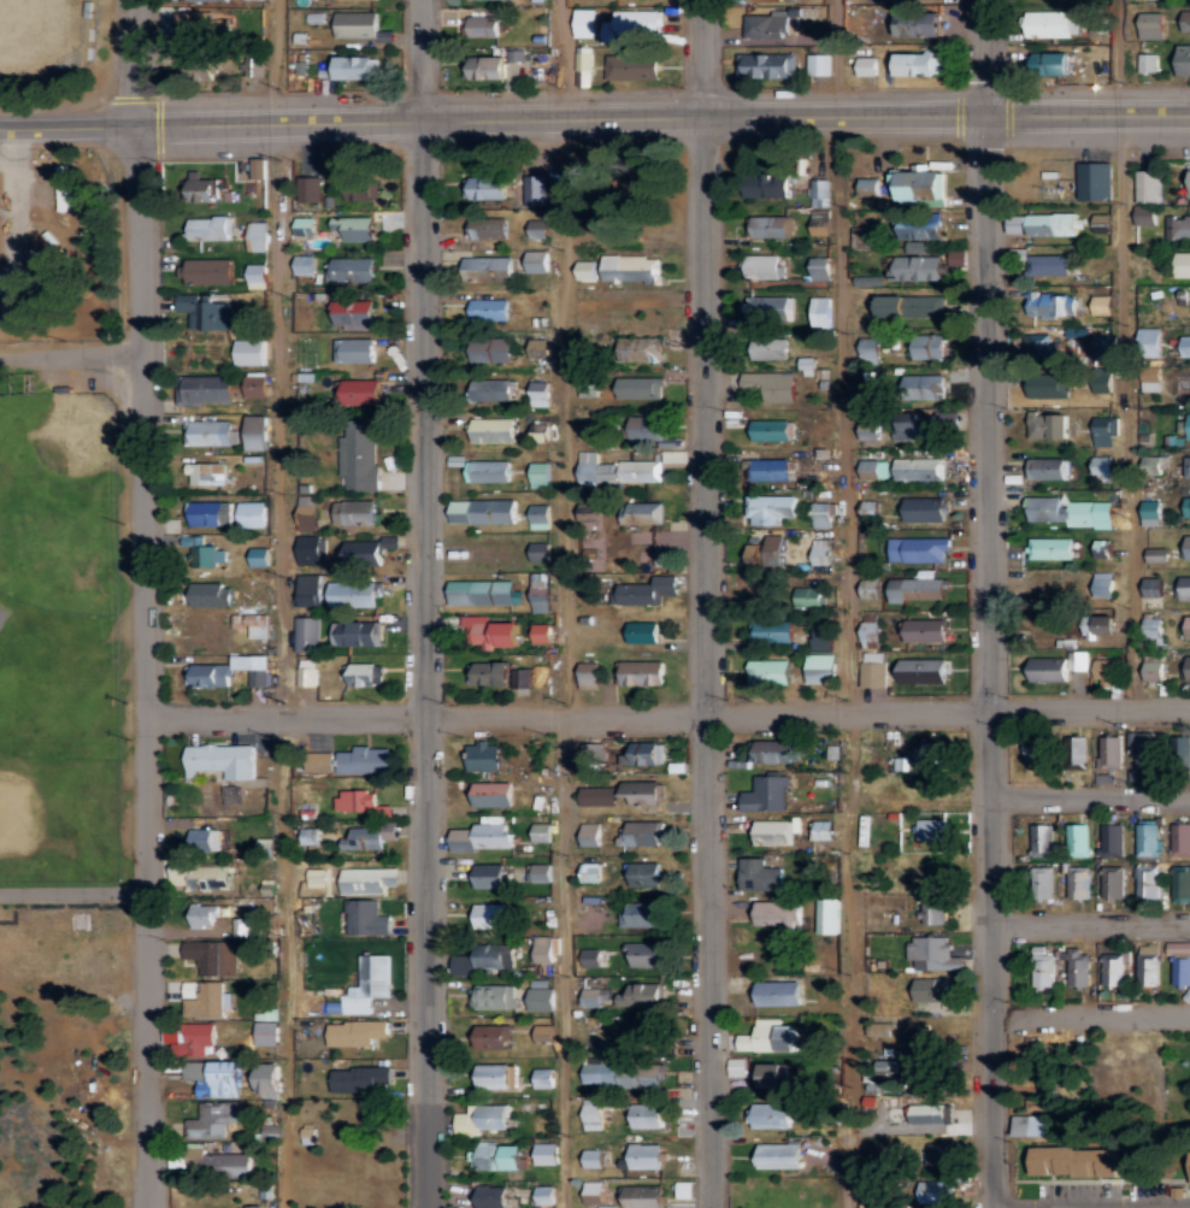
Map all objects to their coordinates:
building: (210, 0)
building: (354, 0)
building: (765, 0)
building: (1185, 20)
building: (585, 23)
building: (764, 23)
building: (867, 23)
building: (1053, 24)
building: (201, 25)
building: (636, 25)
building: (920, 25)
building: (1150, 25)
building: (483, 26)
road: (984, 54)
road: (841, 55)
road: (273, 59)
building: (1184, 60)
building: (1148, 63)
building: (913, 64)
building: (1049, 64)
building: (819, 65)
building: (632, 66)
building: (766, 66)
building: (867, 66)
building: (354, 67)
building: (484, 67)
road: (594, 114)
building: (258, 167)
building: (1095, 181)
building: (920, 183)
building: (1188, 183)
building: (768, 184)
building: (867, 185)
building: (1148, 185)
building: (484, 187)
building: (310, 188)
building: (359, 188)
building: (202, 189)
building: (535, 189)
building: (818, 191)
building: (1145, 214)
building: (819, 222)
building: (1044, 223)
building: (305, 225)
building: (768, 225)
building: (355, 226)
building: (920, 226)
building: (1178, 226)
building: (208, 228)
building: (488, 228)
building: (537, 228)
building: (257, 235)
building: (866, 237)
building: (958, 257)
building: (536, 260)
building: (305, 264)
building: (1049, 264)
building: (1182, 264)
building: (761, 266)
building: (352, 267)
building: (489, 267)
building: (820, 267)
building: (917, 267)
building: (208, 270)
building: (585, 270)
building: (257, 275)
building: (867, 279)
building: (1056, 304)
building: (906, 305)
building: (489, 308)
building: (767, 308)
building: (205, 311)
building: (820, 311)
building: (353, 313)
building: (1151, 337)
building: (1041, 344)
building: (1185, 344)
building: (927, 346)
building: (774, 347)
building: (538, 348)
building: (642, 348)
building: (868, 348)
building: (354, 349)
building: (252, 350)
building: (491, 350)
road: (1131, 353)
road: (71, 360)
building: (770, 384)
building: (255, 385)
building: (588, 385)
building: (925, 385)
building: (1049, 385)
building: (640, 387)
building: (1180, 387)
building: (491, 388)
building: (205, 389)
building: (361, 391)
building: (538, 393)
building: (1048, 424)
building: (870, 425)
building: (1188, 425)
building: (647, 426)
building: (919, 428)
building: (493, 429)
building: (771, 429)
building: (1104, 429)
building: (210, 431)
building: (255, 431)
building: (1156, 460)
building: (1102, 465)
building: (1186, 465)
building: (873, 467)
building: (1048, 467)
building: (770, 469)
building: (918, 469)
building: (487, 470)
building: (613, 470)
building: (206, 472)
building: (540, 473)
building: (1186, 506)
building: (772, 507)
building: (924, 509)
building: (355, 511)
building: (483, 511)
building: (1070, 511)
building: (588, 512)
building: (642, 512)
building: (1151, 512)
building: (821, 513)
building: (252, 514)
building: (540, 515)
building: (306, 517)
building: (308, 548)
building: (821, 548)
building: (918, 548)
building: (1050, 548)
building: (1186, 548)
building: (540, 550)
building: (196, 552)
building: (369, 552)
building: (1156, 554)
building: (767, 555)
building: (259, 556)
building: (1104, 583)
building: (918, 587)
building: (1154, 587)
building: (1184, 587)
building: (871, 588)
building: (307, 590)
building: (644, 590)
building: (482, 591)
building: (540, 591)
building: (352, 593)
building: (212, 595)
building: (808, 596)
road: (143, 603)
road: (426, 603)
road: (562, 603)
road: (706, 603)
building: (252, 623)
building: (1101, 624)
building: (1189, 626)
building: (925, 630)
building: (1153, 630)
building: (490, 631)
building: (643, 631)
building: (770, 631)
building: (355, 632)
building: (541, 632)
park: (61, 634)
building: (306, 634)
building: (870, 634)
building: (823, 635)
road: (852, 659)
road: (989, 659)
road: (285, 664)
building: (1058, 666)
building: (820, 667)
building: (873, 668)
building: (923, 670)
building: (1154, 670)
building: (229, 671)
building: (768, 671)
building: (1185, 671)
building: (307, 672)
building: (641, 672)
building: (1106, 672)
building: (364, 673)
building: (496, 673)
building: (589, 674)
road: (667, 709)
building: (1180, 749)
building: (772, 752)
building: (1143, 752)
building: (648, 753)
building: (927, 753)
building: (1038, 754)
building: (483, 756)
building: (1109, 756)
building: (222, 759)
building: (364, 760)
building: (642, 791)
building: (766, 792)
building: (494, 794)
building: (597, 795)
road: (1090, 800)
building: (360, 803)
building: (932, 829)
building: (821, 830)
building: (541, 831)
building: (776, 831)
building: (640, 832)
building: (590, 833)
building: (484, 835)
building: (367, 836)
building: (1042, 838)
building: (1180, 838)
building: (205, 839)
building: (1078, 839)
building: (1111, 839)
building: (1147, 839)
building: (590, 871)
building: (540, 872)
building: (644, 873)
building: (205, 874)
building: (489, 874)
building: (760, 874)
building: (316, 877)
building: (367, 879)
building: (1042, 882)
building: (1077, 882)
building: (1112, 882)
building: (1147, 882)
building: (1180, 883)
road: (73, 895)
building: (933, 911)
building: (779, 913)
building: (204, 914)
building: (641, 914)
building: (490, 915)
building: (827, 915)
building: (366, 918)
road: (1090, 919)
building: (544, 948)
building: (644, 954)
building: (931, 954)
building: (495, 955)
building: (212, 956)
building: (591, 957)
building: (1179, 962)
building: (464, 964)
building: (1148, 965)
building: (1079, 967)
building: (1043, 970)
building: (1113, 971)
building: (365, 985)
building: (929, 989)
building: (776, 992)
building: (541, 995)
building: (206, 996)
building: (491, 996)
building: (624, 996)
road: (1092, 1012)
building: (879, 1030)
building: (357, 1032)
building: (543, 1032)
building: (267, 1033)
building: (647, 1035)
building: (490, 1037)
building: (768, 1037)
building: (195, 1039)
building: (735, 1066)
building: (927, 1073)
building: (621, 1074)
building: (493, 1076)
building: (776, 1076)
building: (214, 1077)
building: (543, 1077)
building: (267, 1078)
building: (360, 1078)
building: (591, 1113)
building: (927, 1113)
building: (768, 1114)
building: (648, 1115)
building: (212, 1119)
building: (481, 1119)
building: (1042, 1125)
building: (546, 1153)
building: (941, 1154)
building: (644, 1155)
building: (778, 1155)
building: (496, 1156)
building: (593, 1157)
building: (1076, 1161)
building: (228, 1163)
building: (593, 1191)
building: (935, 1192)
building: (544, 1195)
building: (642, 1195)
building: (491, 1196)
building: (254, 1207)

